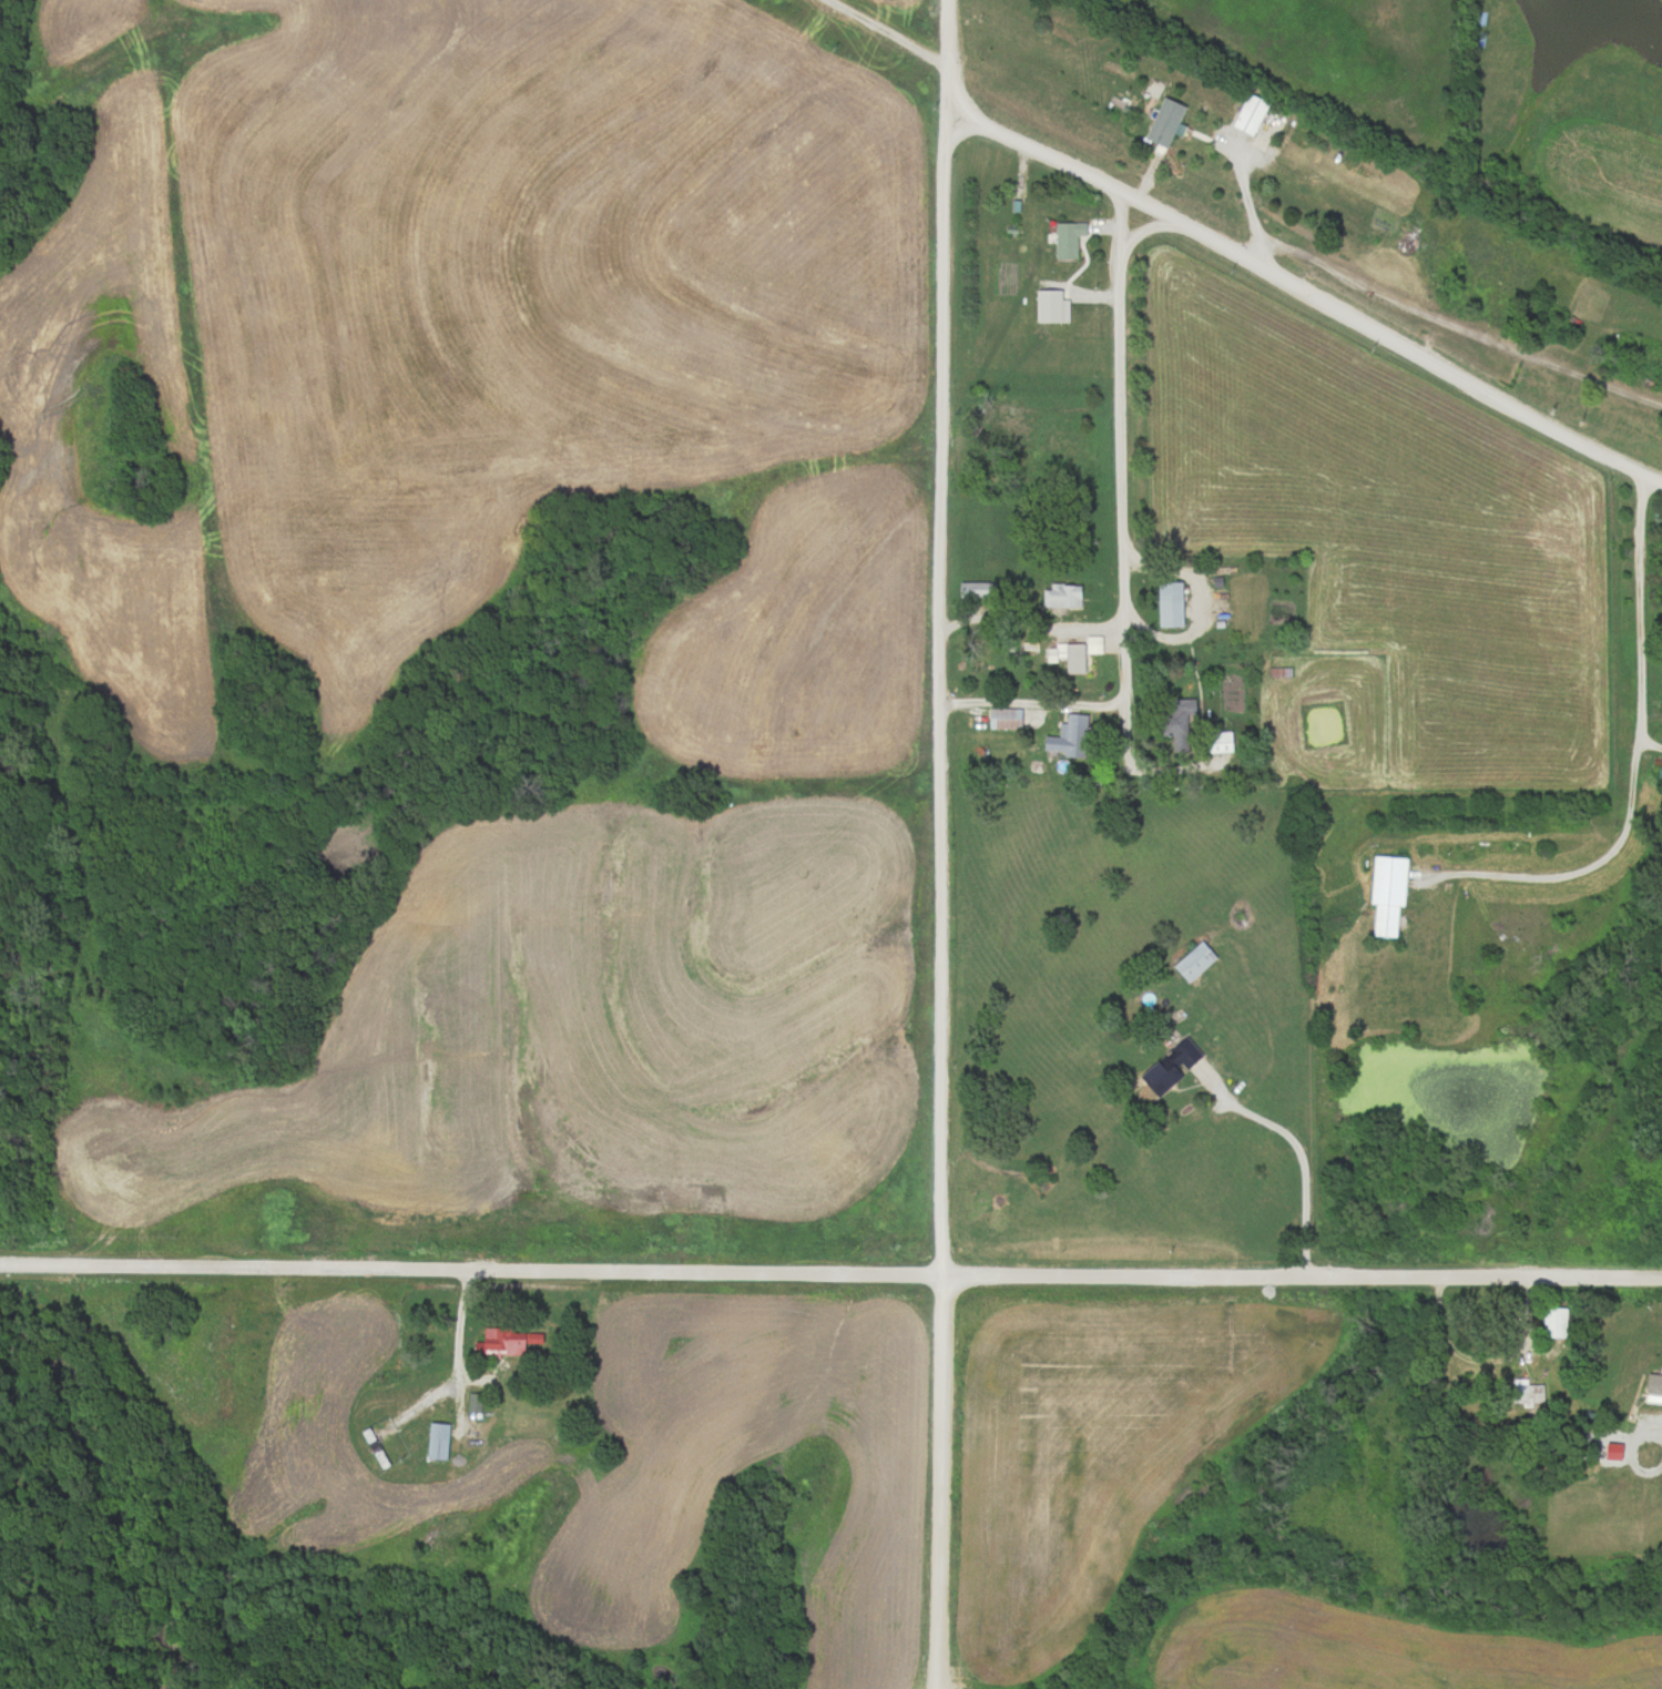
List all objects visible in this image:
building: (1162, 122)
building: (1266, 124)
road: (1250, 201)
building: (1065, 238)
road: (1308, 291)
road: (1118, 456)
building: (969, 589)
building: (1059, 594)
building: (1166, 603)
road: (1639, 607)
building: (1072, 658)
building: (1175, 712)
building: (1661, 712)
building: (1002, 718)
building: (1067, 735)
building: (1223, 741)
road: (937, 843)
building: (1385, 893)
building: (1192, 961)
building: (1168, 1066)
road: (469, 1269)
road: (1301, 1276)
building: (1553, 1322)
building: (501, 1341)
building: (1526, 1391)
building: (435, 1441)

